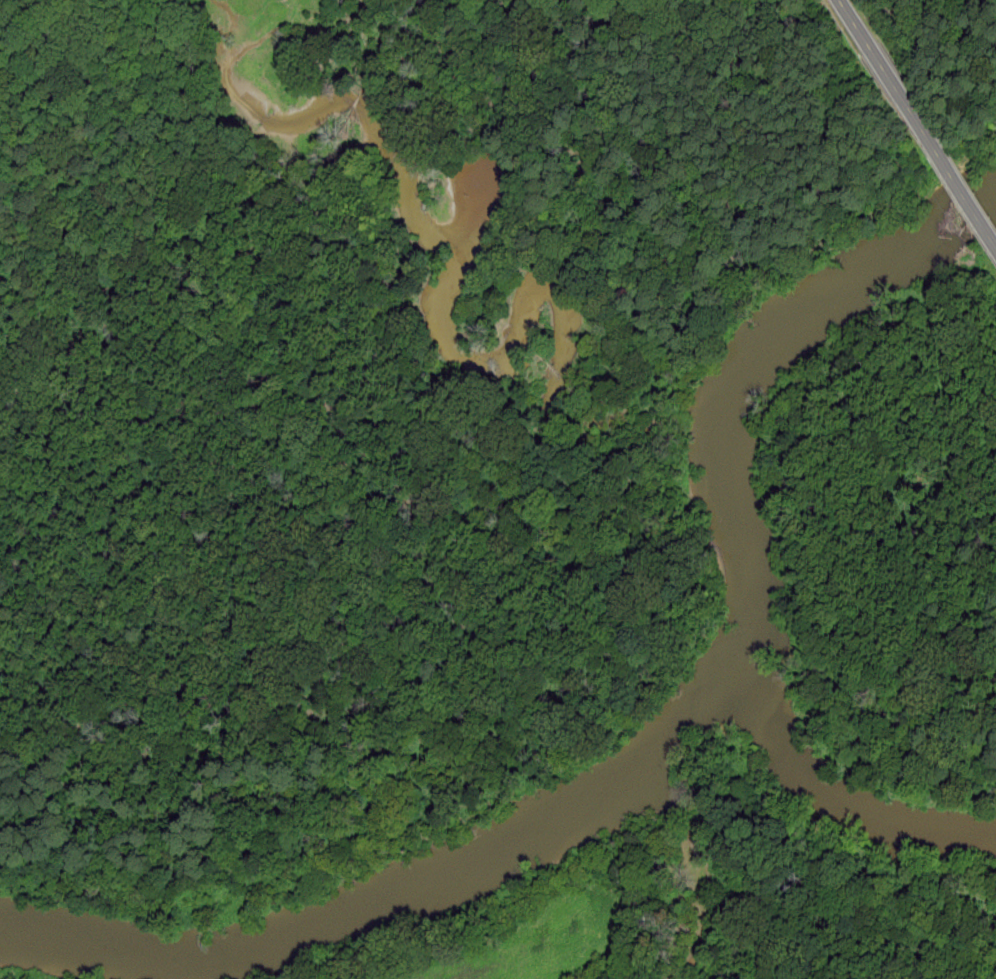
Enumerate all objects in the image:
road: (888, 74)
road: (966, 195)
river: (663, 759)

